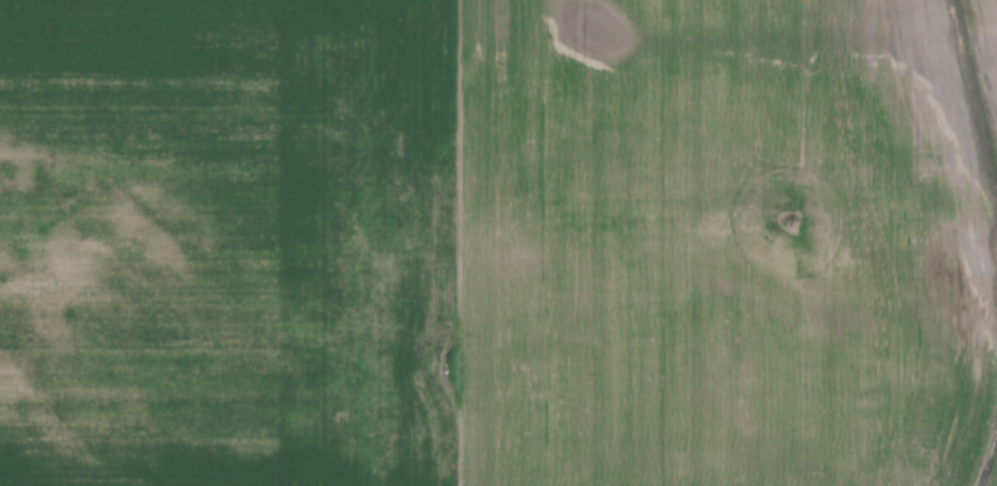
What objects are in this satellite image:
building: (554, 391)

